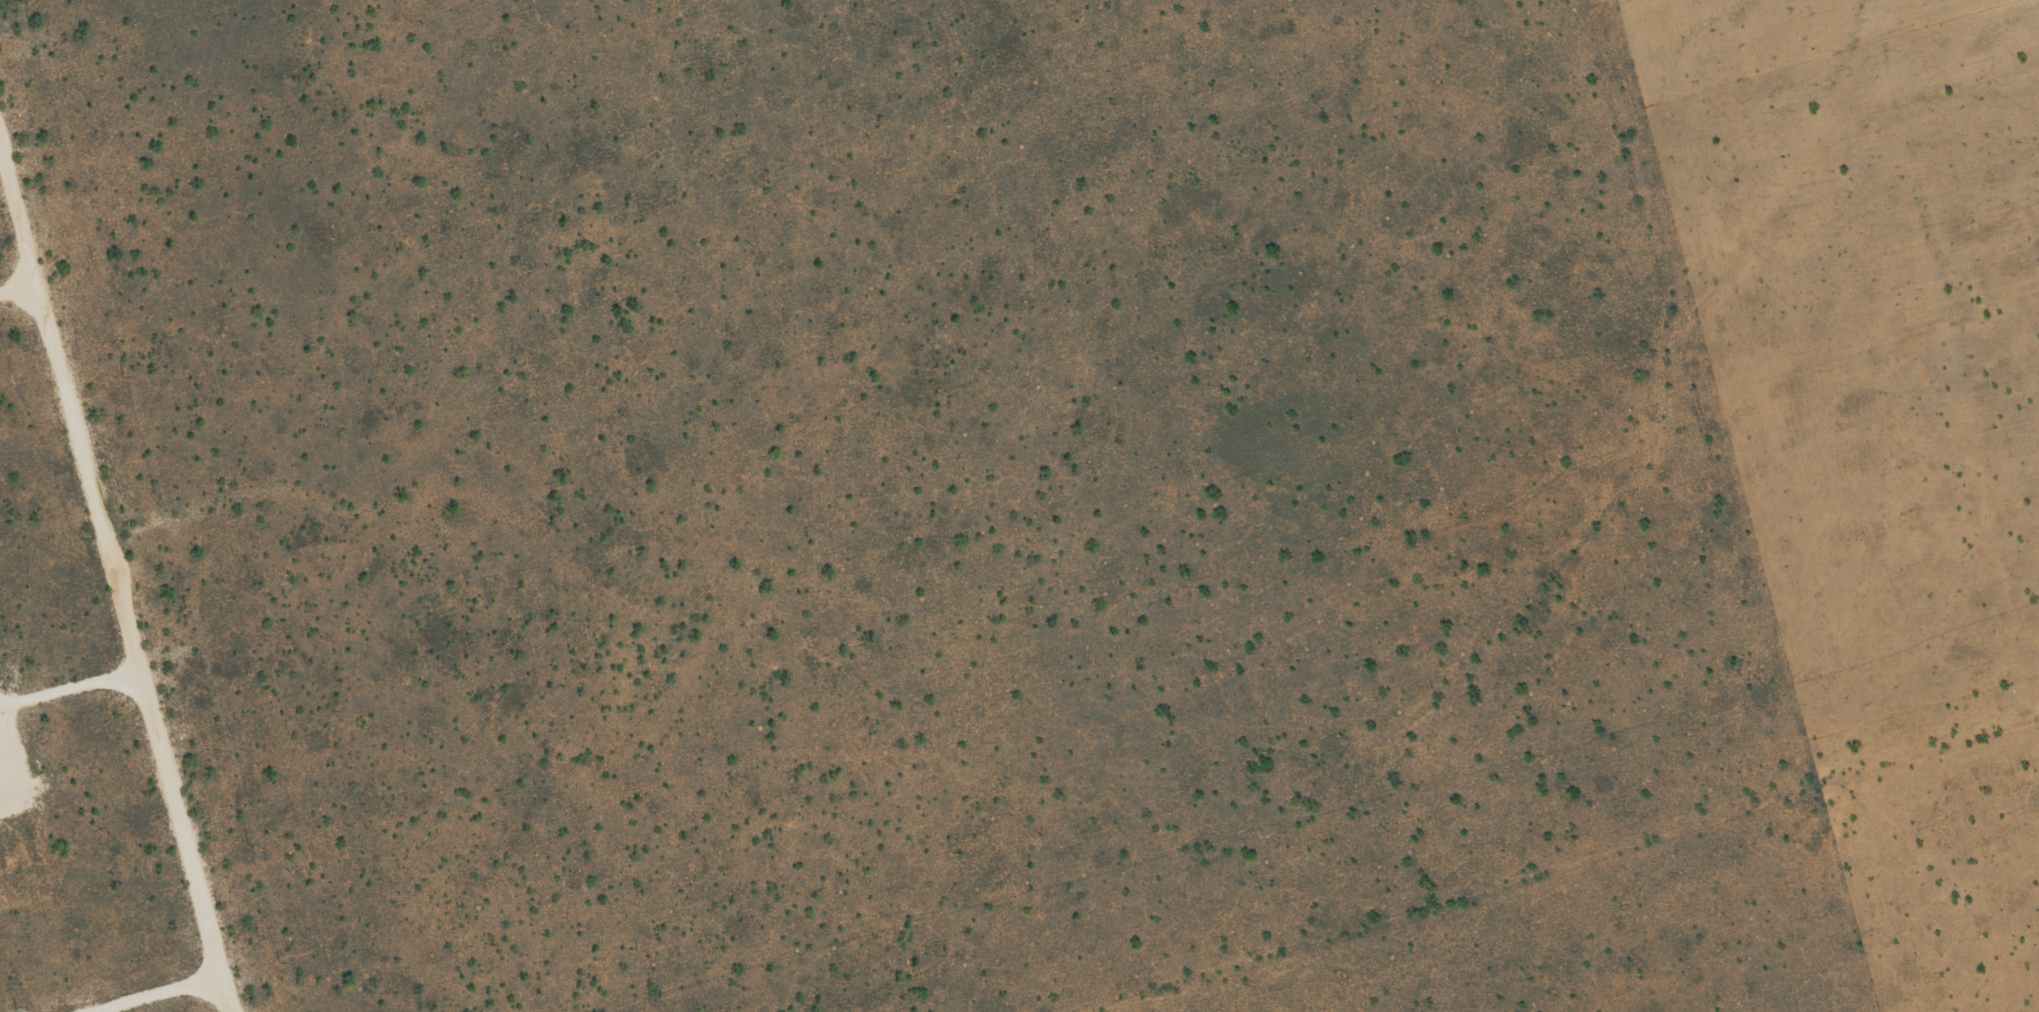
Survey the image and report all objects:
road: (114, 554)

